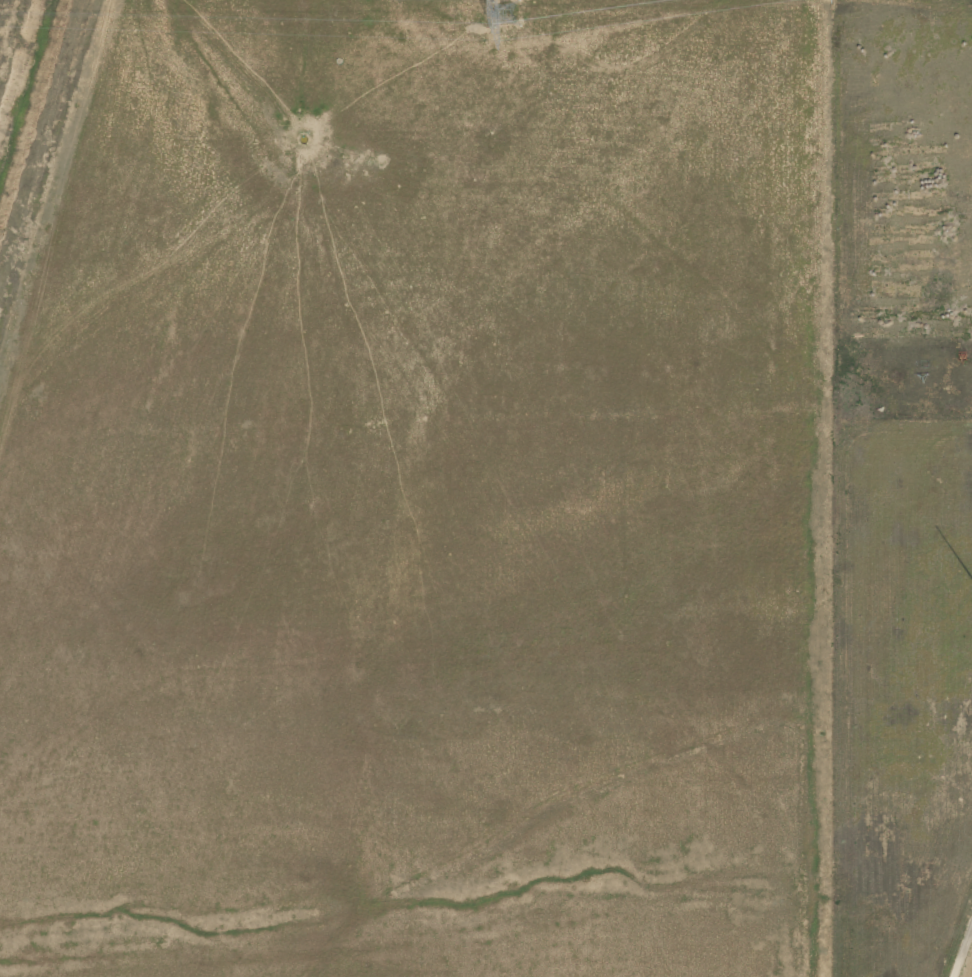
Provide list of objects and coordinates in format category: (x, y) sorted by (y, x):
power tower: (504, 13)

